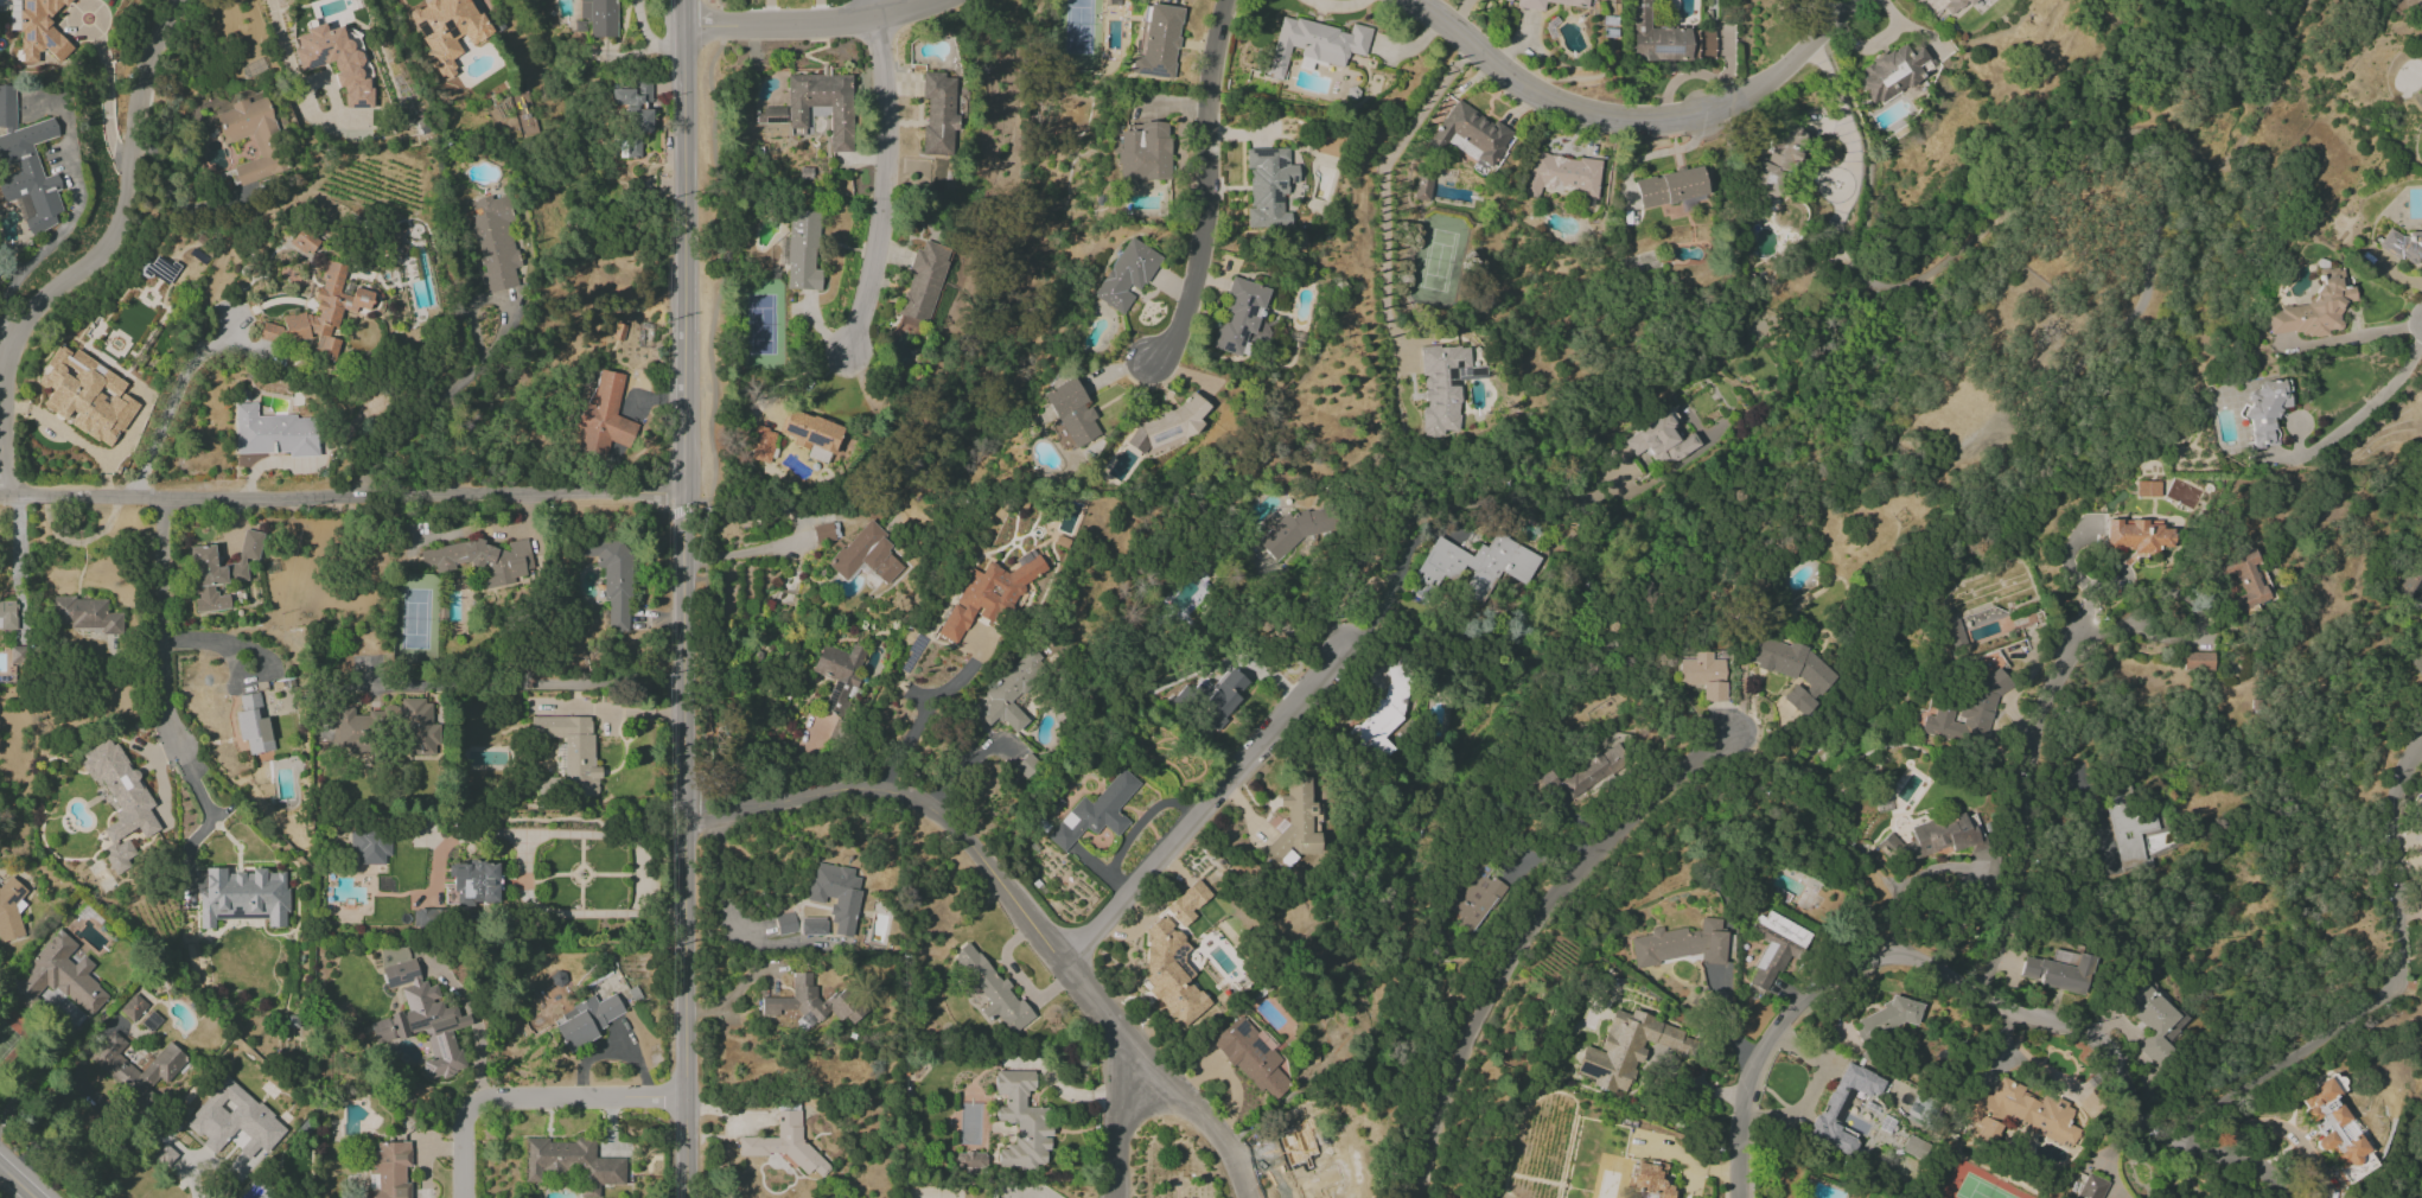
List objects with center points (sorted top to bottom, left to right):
building: (1530, 4)
building: (1953, 6)
road: (874, 11)
building: (597, 18)
road: (809, 24)
building: (37, 28)
building: (447, 31)
building: (1666, 39)
building: (1156, 42)
building: (1314, 44)
building: (334, 62)
building: (1891, 72)
road: (104, 97)
building: (635, 106)
building: (937, 113)
building: (771, 117)
road: (1637, 117)
building: (1471, 134)
building: (264, 139)
building: (1141, 153)
building: (1778, 159)
building: (26, 167)
building: (1561, 174)
road: (2045, 180)
building: (1423, 186)
road: (1209, 187)
building: (1268, 187)
road: (887, 189)
building: (1671, 189)
road: (1387, 190)
road: (52, 238)
building: (305, 242)
building: (493, 243)
park: (2071, 246)
building: (2402, 246)
building: (802, 251)
road: (96, 256)
building: (160, 270)
building: (1126, 275)
building: (924, 281)
building: (2314, 307)
building: (326, 312)
building: (1239, 316)
building: (272, 332)
road: (5, 337)
building: (1443, 385)
building: (85, 395)
road: (172, 397)
building: (2265, 409)
building: (1071, 413)
road: (2360, 414)
building: (604, 418)
road: (421, 419)
building: (1168, 426)
building: (273, 433)
building: (812, 435)
building: (1662, 441)
building: (761, 445)
building: (2147, 489)
road: (342, 497)
building: (822, 533)
building: (1290, 533)
building: (2137, 535)
road: (744, 550)
building: (866, 555)
building: (484, 561)
building: (1477, 566)
building: (219, 572)
building: (611, 578)
building: (2242, 579)
building: (2411, 579)
road: (1392, 581)
building: (988, 594)
road: (684, 599)
building: (7, 613)
building: (84, 614)
road: (2141, 616)
building: (2197, 661)
building: (1795, 671)
road: (238, 673)
building: (839, 675)
building: (1704, 675)
building: (1012, 692)
road: (167, 697)
building: (1218, 697)
road: (606, 712)
road: (926, 712)
building: (253, 725)
building: (414, 726)
building: (351, 732)
building: (572, 751)
building: (1594, 770)
building: (120, 802)
road: (1213, 805)
road: (2026, 805)
building: (1096, 811)
building: (1295, 822)
road: (1137, 830)
building: (2139, 834)
building: (1935, 837)
building: (370, 846)
road: (1841, 847)
road: (522, 873)
building: (473, 884)
building: (835, 894)
building: (243, 897)
building: (1475, 899)
road: (1016, 903)
building: (1187, 903)
building: (9, 910)
building: (420, 917)
building: (785, 923)
building: (812, 926)
road: (1531, 937)
building: (1683, 944)
building: (1774, 948)
building: (1171, 971)
building: (2060, 971)
building: (59, 976)
building: (992, 989)
road: (2383, 994)
building: (810, 1002)
building: (133, 1007)
road: (1800, 1009)
building: (1889, 1017)
building: (421, 1019)
building: (2153, 1019)
building: (585, 1020)
road: (474, 1032)
building: (1627, 1049)
building: (1251, 1058)
building: (113, 1065)
road: (38, 1073)
road: (1810, 1092)
road: (533, 1098)
road: (2136, 1101)
building: (1842, 1108)
building: (2020, 1113)
building: (1021, 1121)
building: (235, 1122)
building: (2332, 1122)
road: (1121, 1128)
building: (785, 1145)
building: (1912, 1146)
building: (164, 1155)
building: (969, 1160)
building: (571, 1162)
building: (2359, 1167)
building: (1301, 1168)
building: (389, 1170)
road: (187, 1178)
building: (1649, 1180)
road: (17, 1181)
building: (2090, 1187)

